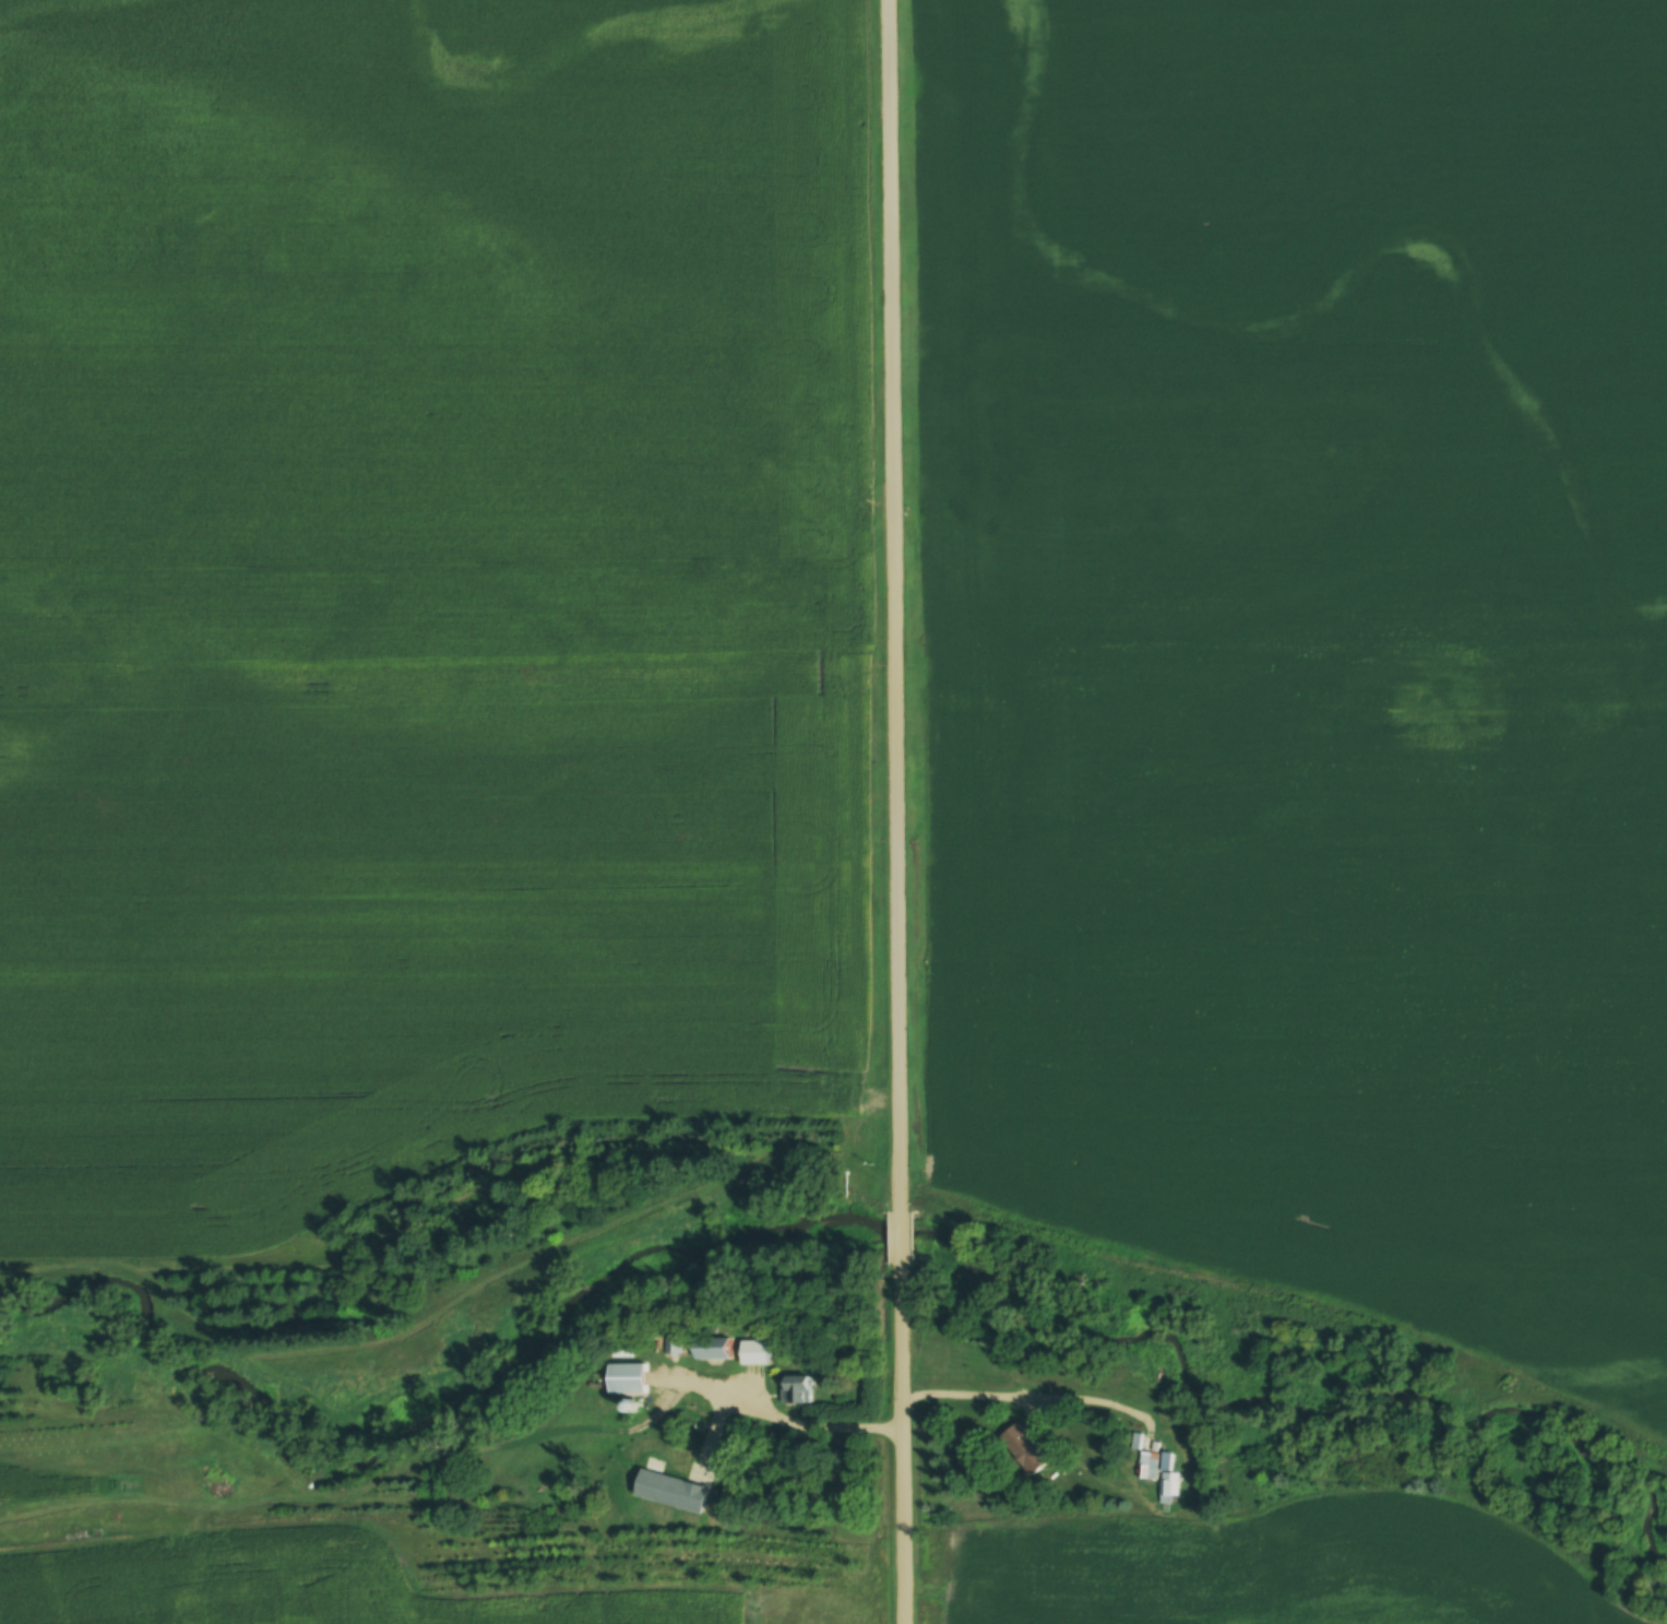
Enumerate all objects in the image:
road: (896, 811)
building: (754, 1346)
river: (129, 1348)
building: (724, 1351)
river: (519, 1367)
building: (633, 1377)
building: (799, 1390)
river: (1214, 1407)
building: (1022, 1448)
building: (1156, 1474)
building: (679, 1491)

